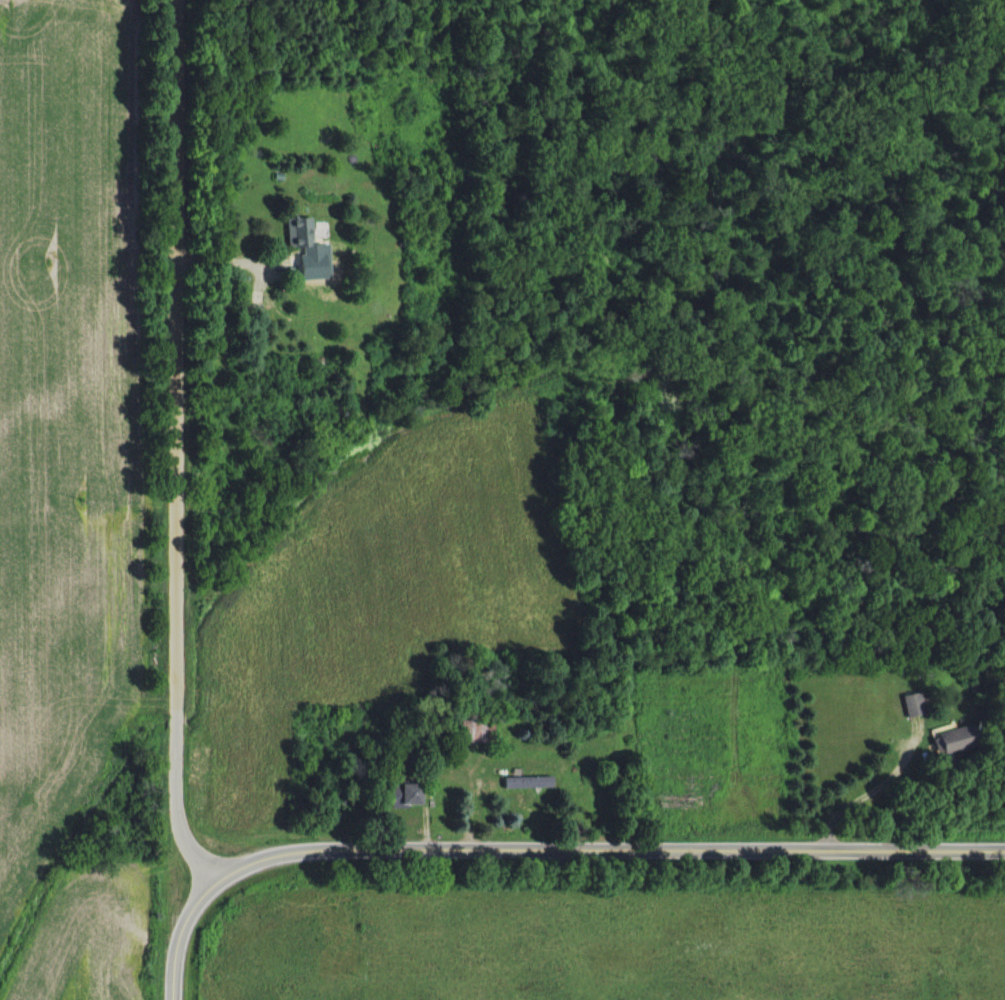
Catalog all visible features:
building: (295, 233)
road: (175, 461)
building: (912, 705)
building: (465, 732)
building: (953, 740)
building: (396, 795)
road: (212, 838)
road: (577, 853)
road: (173, 961)

